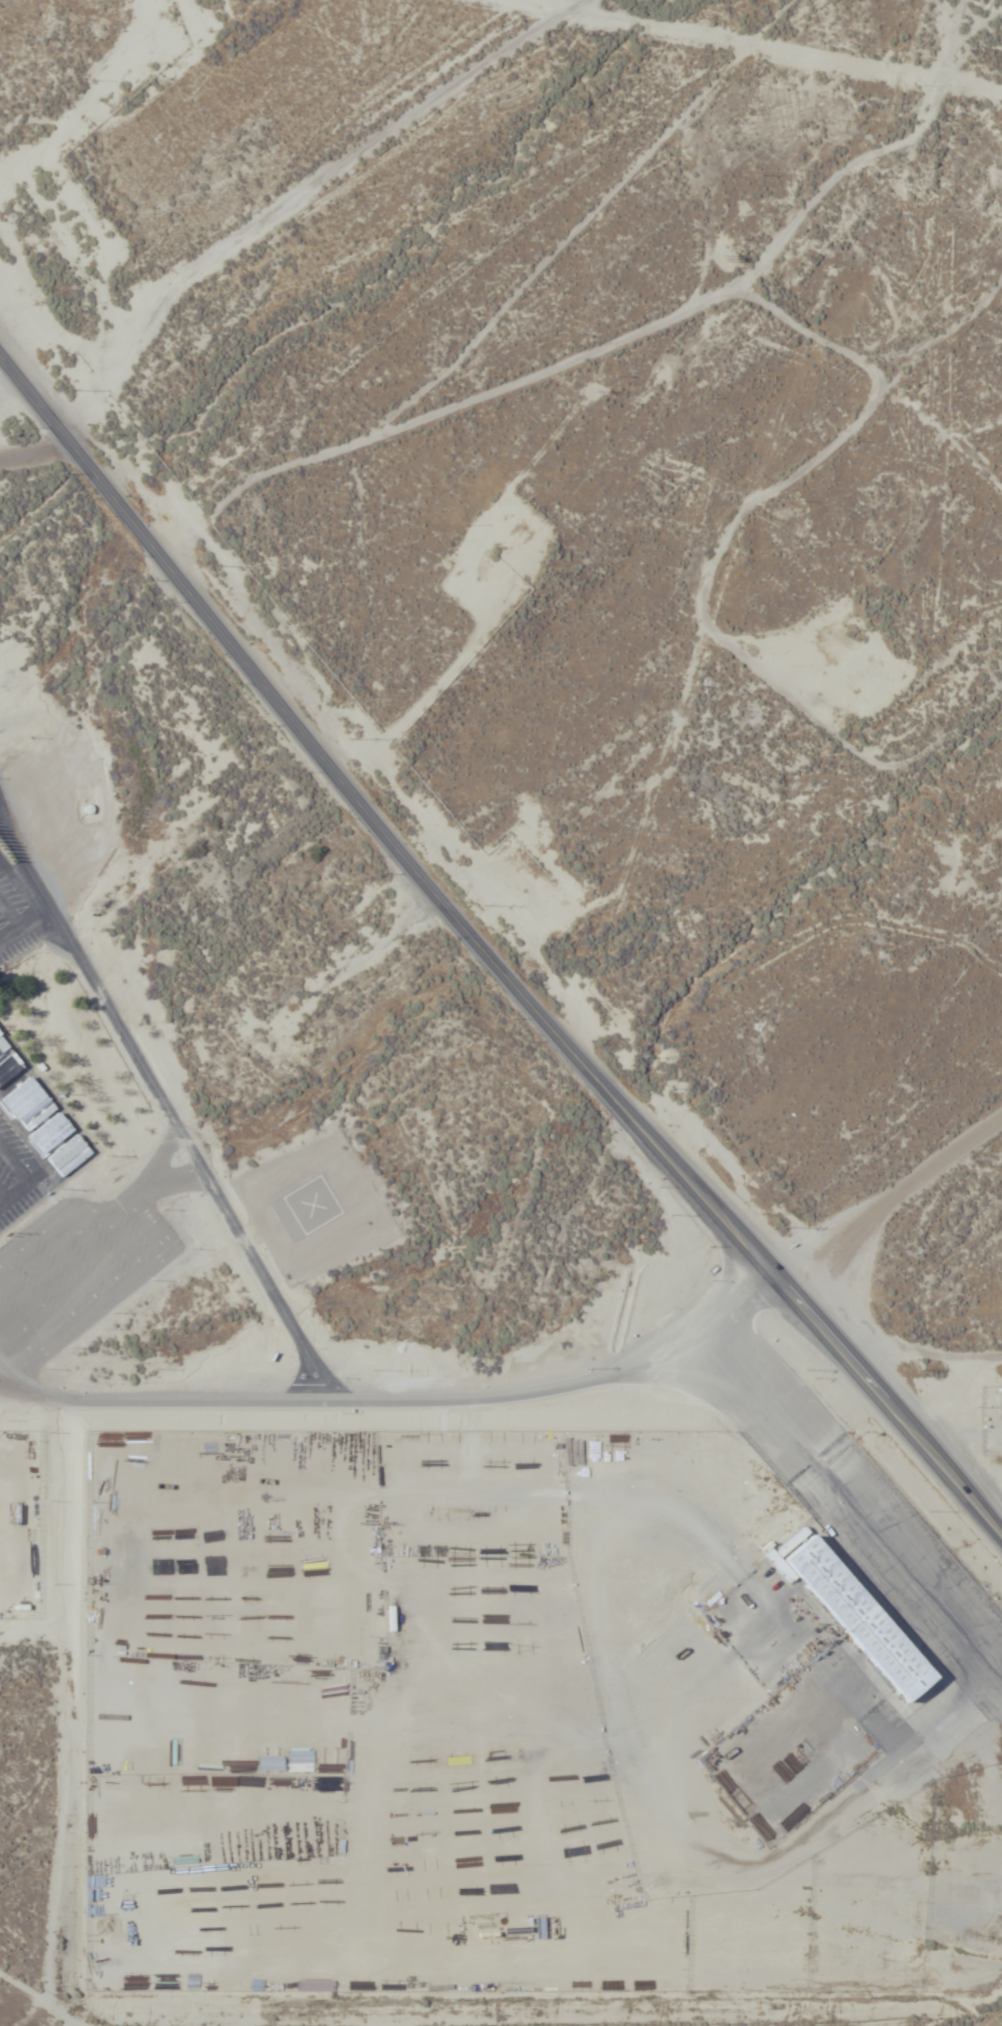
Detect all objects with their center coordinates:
road: (288, 230)
road: (108, 694)
road: (73, 774)
road: (495, 970)
building: (8, 1062)
road: (167, 1109)
building: (37, 1115)
building: (69, 1155)
road: (868, 1220)
road: (816, 1252)
road: (11, 1377)
road: (564, 1386)
road: (160, 1396)
road: (584, 1610)
building: (848, 1616)
building: (392, 1639)
road: (67, 1701)
road: (49, 1999)

